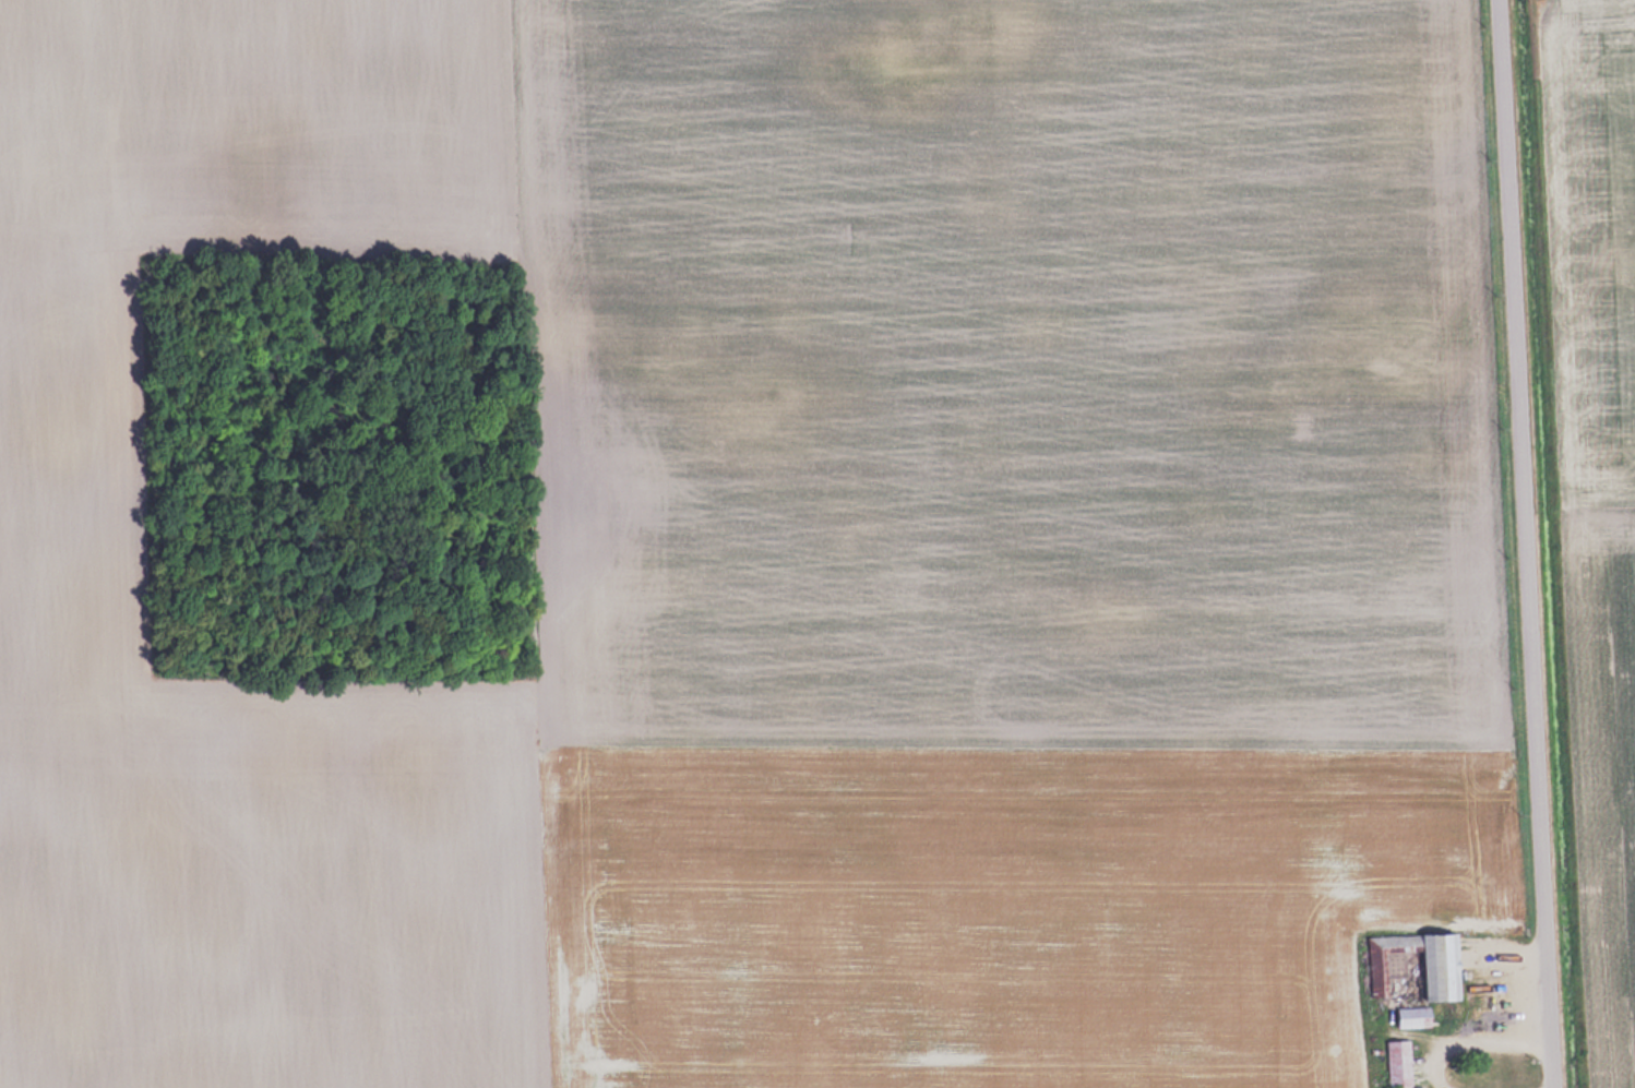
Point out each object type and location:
road: (1528, 543)
building: (1440, 973)
building: (1412, 1017)
building: (1398, 1064)

